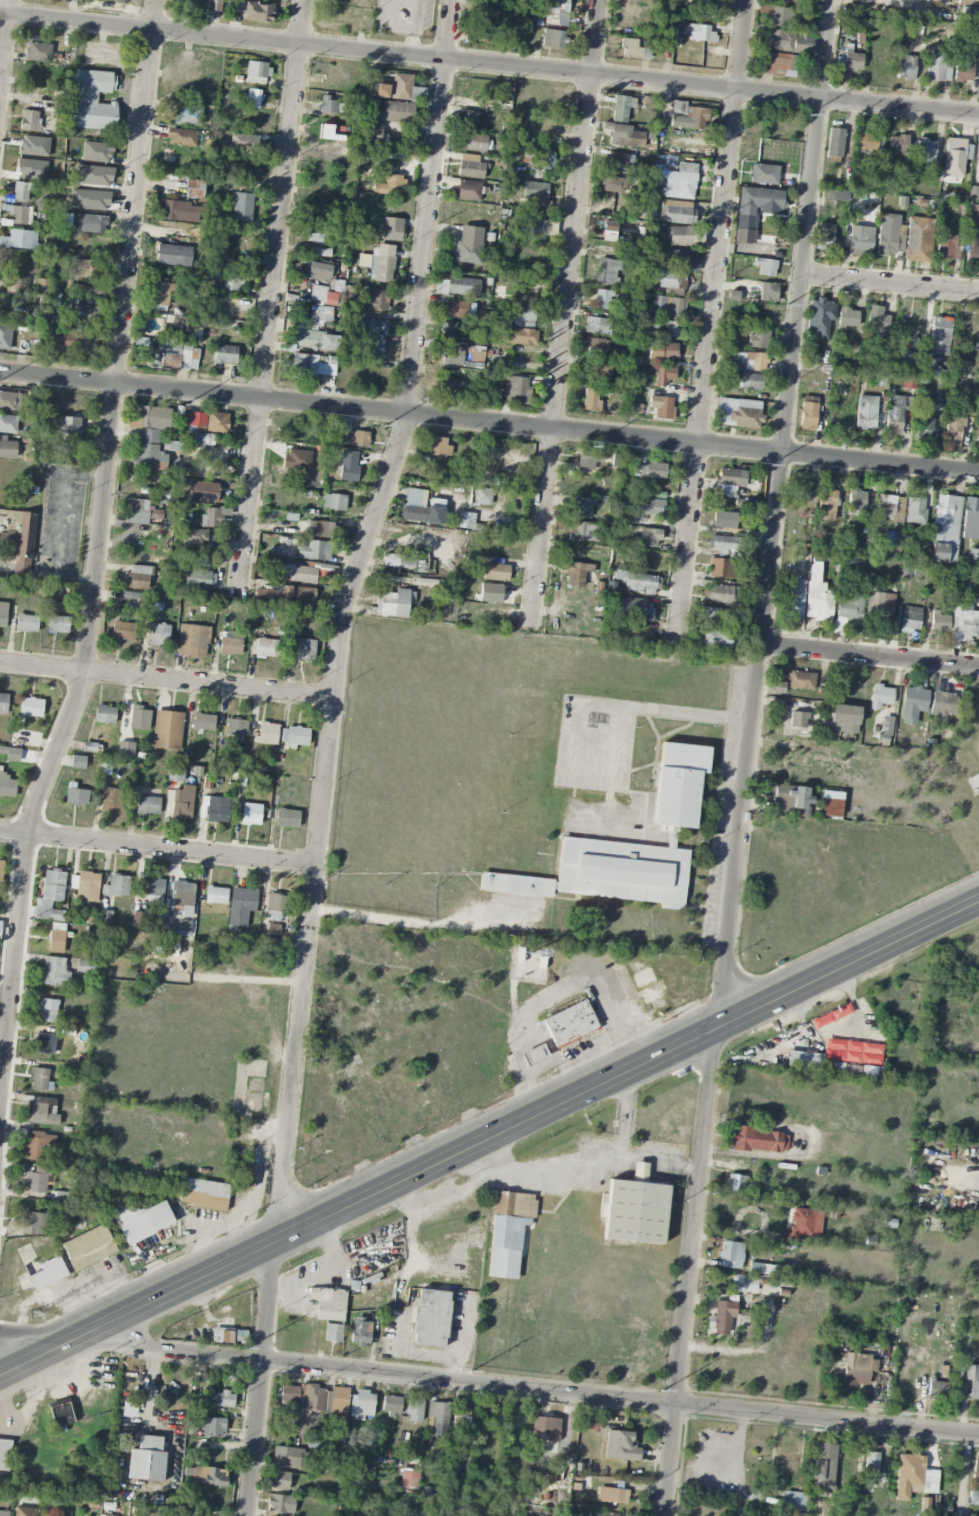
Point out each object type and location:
building: (115, 0)
building: (968, 2)
building: (193, 3)
building: (213, 5)
building: (704, 9)
building: (258, 12)
building: (555, 12)
building: (780, 17)
building: (484, 31)
building: (699, 33)
road: (4, 38)
building: (553, 39)
building: (788, 42)
building: (633, 49)
building: (38, 53)
building: (852, 61)
road: (489, 64)
building: (781, 65)
building: (906, 67)
building: (964, 67)
building: (938, 68)
building: (256, 72)
building: (406, 89)
building: (380, 91)
building: (253, 99)
building: (92, 100)
building: (327, 104)
building: (622, 108)
power tower: (804, 110)
building: (398, 112)
building: (690, 114)
building: (187, 116)
building: (30, 120)
building: (467, 120)
building: (370, 133)
building: (625, 136)
building: (181, 137)
building: (475, 142)
building: (870, 142)
building: (835, 143)
building: (897, 143)
building: (243, 144)
building: (924, 152)
building: (956, 157)
building: (539, 159)
building: (618, 162)
building: (470, 167)
building: (978, 173)
building: (764, 174)
building: (682, 182)
building: (613, 184)
building: (390, 185)
building: (194, 189)
building: (22, 191)
building: (467, 191)
building: (535, 191)
building: (973, 193)
building: (834, 194)
building: (756, 205)
building: (242, 207)
building: (178, 211)
building: (678, 212)
building: (21, 215)
building: (973, 215)
building: (65, 220)
building: (538, 223)
building: (91, 224)
building: (317, 229)
building: (391, 229)
building: (890, 235)
building: (684, 236)
building: (824, 237)
building: (918, 239)
building: (20, 240)
building: (860, 240)
building: (469, 246)
building: (948, 247)
building: (972, 251)
building: (317, 252)
building: (173, 255)
building: (364, 260)
building: (682, 260)
building: (382, 263)
building: (766, 267)
building: (86, 268)
building: (606, 270)
building: (318, 271)
building: (669, 281)
building: (232, 284)
road: (890, 285)
building: (16, 286)
building: (457, 286)
building: (41, 287)
building: (77, 288)
building: (768, 292)
building: (160, 295)
building: (323, 295)
road: (269, 299)
building: (374, 299)
building: (602, 299)
power tower: (785, 301)
building: (664, 306)
building: (455, 308)
building: (321, 314)
road: (564, 314)
building: (522, 316)
building: (820, 316)
building: (848, 317)
road: (709, 322)
building: (876, 322)
building: (373, 326)
building: (597, 326)
building: (673, 329)
building: (447, 331)
building: (50, 334)
building: (5, 336)
building: (521, 336)
building: (939, 336)
building: (759, 338)
building: (75, 339)
building: (316, 340)
building: (376, 346)
building: (597, 347)
building: (663, 351)
building: (172, 352)
building: (225, 354)
building: (461, 355)
building: (755, 361)
building: (313, 365)
building: (598, 371)
building: (664, 375)
building: (751, 381)
building: (909, 381)
building: (940, 386)
building: (443, 387)
building: (515, 390)
building: (591, 400)
building: (9, 401)
building: (32, 405)
power tower: (186, 406)
building: (661, 407)
building: (738, 413)
building: (808, 413)
building: (866, 413)
building: (896, 413)
building: (153, 418)
building: (196, 419)
building: (834, 419)
building: (217, 422)
building: (8, 423)
road: (489, 424)
power tower: (386, 425)
building: (925, 426)
building: (74, 429)
building: (953, 431)
building: (357, 439)
building: (172, 446)
power tower: (589, 446)
building: (439, 447)
building: (7, 448)
building: (149, 451)
building: (589, 459)
building: (615, 460)
power tower: (769, 464)
building: (348, 466)
building: (649, 470)
building: (731, 477)
building: (723, 490)
building: (801, 490)
building: (203, 492)
building: (483, 496)
building: (856, 501)
building: (334, 502)
building: (829, 503)
building: (653, 505)
building: (582, 507)
building: (420, 509)
building: (889, 509)
building: (915, 510)
building: (139, 511)
road: (774, 512)
building: (214, 516)
building: (465, 520)
building: (724, 520)
building: (971, 520)
building: (322, 529)
building: (945, 529)
building: (583, 532)
building: (194, 537)
building: (726, 543)
road: (97, 548)
building: (311, 550)
building: (973, 558)
building: (857, 562)
building: (410, 565)
building: (721, 568)
building: (495, 572)
building: (577, 573)
building: (303, 574)
building: (138, 577)
building: (200, 579)
building: (423, 582)
building: (640, 583)
building: (490, 593)
building: (718, 594)
building: (272, 597)
building: (303, 597)
building: (794, 597)
building: (817, 597)
building: (132, 600)
building: (394, 603)
building: (880, 604)
building: (431, 606)
building: (636, 609)
building: (847, 612)
building: (3, 614)
building: (710, 616)
building: (910, 619)
building: (964, 621)
building: (939, 622)
building: (26, 623)
building: (58, 624)
building: (123, 631)
building: (159, 634)
building: (716, 639)
building: (192, 640)
building: (230, 646)
building: (267, 648)
building: (304, 649)
road: (870, 656)
road: (165, 680)
building: (801, 680)
building: (778, 687)
building: (881, 696)
building: (913, 702)
building: (3, 703)
building: (942, 704)
building: (31, 707)
building: (105, 714)
building: (139, 718)
building: (798, 719)
building: (844, 719)
building: (203, 722)
building: (887, 726)
building: (236, 728)
building: (167, 730)
road: (620, 730)
building: (267, 733)
building: (295, 736)
building: (91, 747)
building: (125, 749)
road: (326, 753)
building: (11, 754)
building: (77, 761)
building: (176, 774)
building: (678, 784)
building: (7, 786)
building: (76, 795)
building: (111, 799)
building: (790, 800)
building: (182, 804)
building: (148, 805)
building: (831, 806)
building: (217, 809)
building: (251, 814)
building: (286, 818)
road: (157, 849)
building: (1, 869)
building: (623, 871)
building: (516, 885)
building: (85, 886)
building: (116, 886)
building: (152, 889)
building: (51, 895)
building: (182, 895)
building: (216, 895)
building: (277, 905)
building: (241, 906)
building: (138, 919)
road: (423, 923)
building: (183, 926)
building: (273, 929)
building: (56, 941)
building: (166, 949)
building: (85, 967)
building: (55, 972)
road: (5, 999)
building: (47, 1010)
building: (831, 1016)
building: (569, 1022)
building: (45, 1042)
building: (852, 1052)
building: (533, 1054)
building: (804, 1060)
building: (40, 1080)
building: (43, 1111)
road: (525, 1120)
road: (621, 1135)
building: (758, 1140)
building: (38, 1145)
road: (511, 1171)
building: (243, 1174)
building: (37, 1180)
building: (736, 1184)
building: (204, 1194)
building: (634, 1209)
building: (141, 1220)
building: (806, 1222)
building: (33, 1223)
building: (508, 1232)
building: (89, 1248)
building: (731, 1255)
building: (760, 1269)
road: (689, 1270)
building: (48, 1273)
building: (744, 1283)
road: (72, 1290)
building: (331, 1304)
road: (75, 1313)
power tower: (34, 1314)
building: (722, 1317)
building: (430, 1318)
building: (333, 1333)
building: (360, 1333)
building: (222, 1335)
road: (35, 1336)
building: (240, 1336)
power tower: (247, 1348)
road: (35, 1357)
building: (858, 1369)
power tower: (471, 1371)
building: (973, 1380)
road: (150, 1389)
road: (524, 1389)
power tower: (662, 1390)
building: (937, 1390)
building: (289, 1393)
building: (312, 1397)
building: (222, 1399)
building: (338, 1403)
building: (361, 1405)
building: (391, 1405)
building: (129, 1409)
building: (414, 1410)
building: (61, 1413)
power tower: (895, 1414)
building: (437, 1419)
building: (212, 1427)
building: (339, 1427)
building: (545, 1429)
building: (620, 1446)
road: (739, 1450)
building: (5, 1454)
building: (291, 1457)
building: (147, 1459)
building: (871, 1463)
building: (342, 1465)
building: (823, 1469)
building: (976, 1469)
building: (210, 1476)
building: (914, 1477)
building: (409, 1478)
building: (280, 1480)
building: (795, 1501)
building: (281, 1504)
building: (25, 1512)
building: (4, 1513)
building: (797, 1514)
building: (99, 1515)

